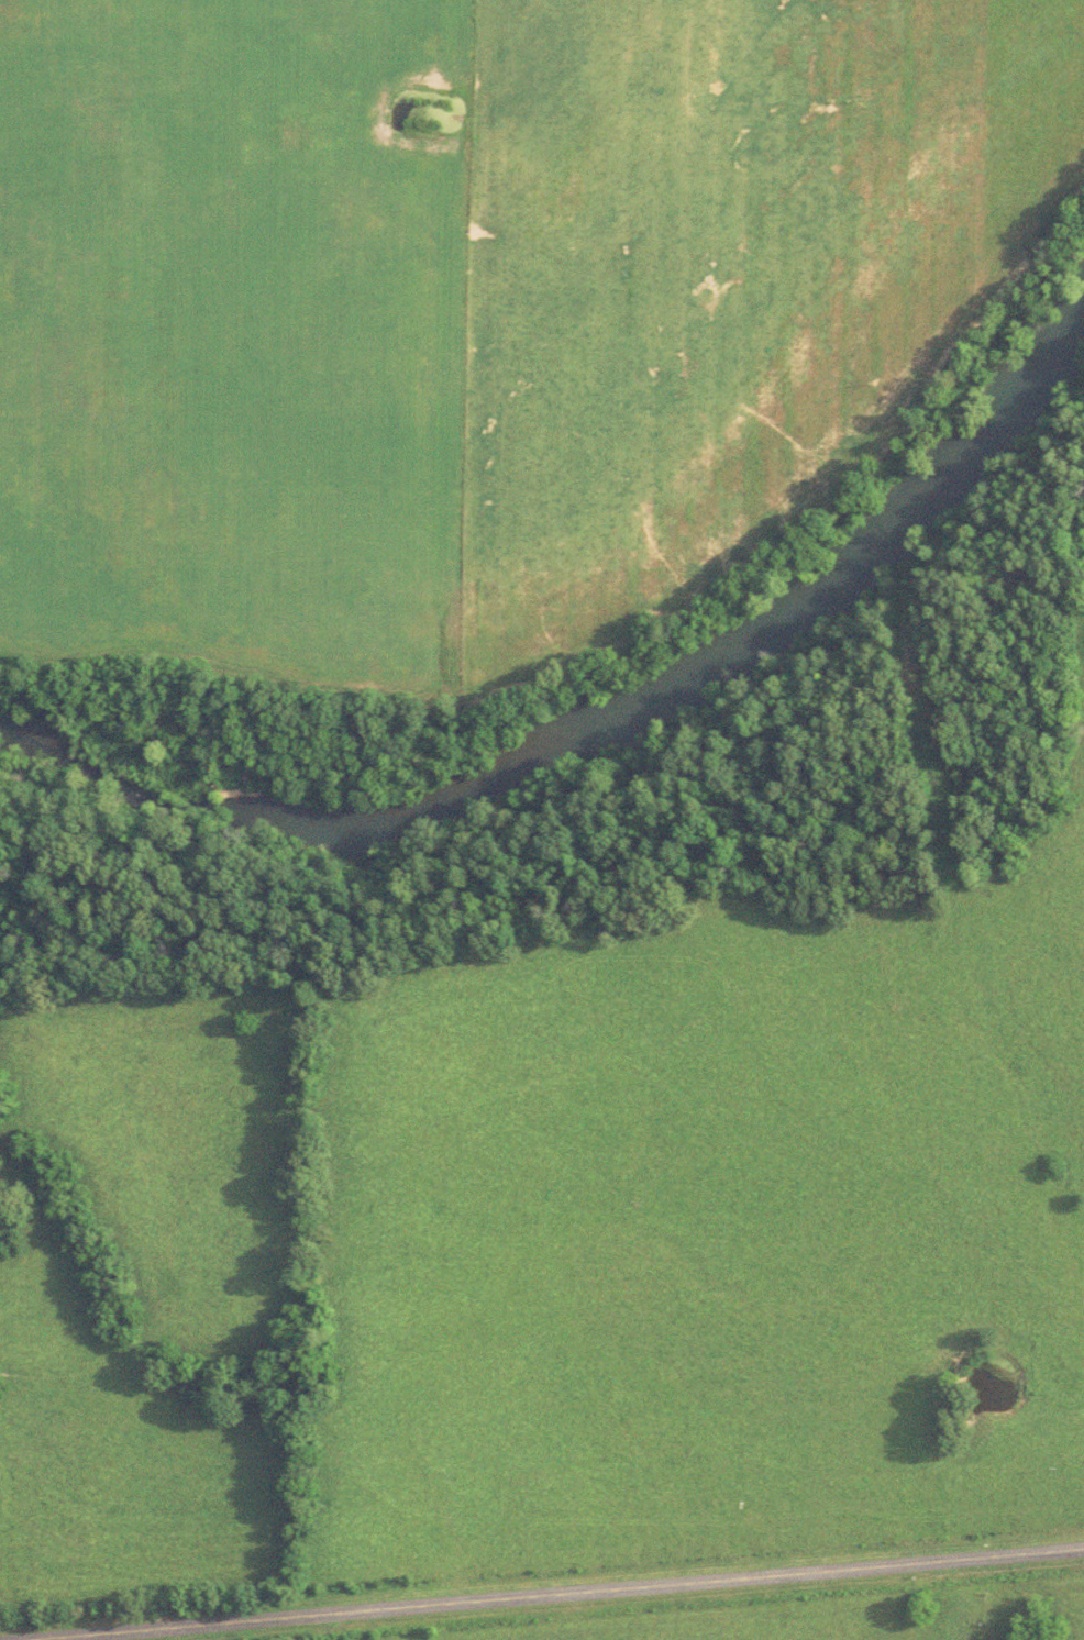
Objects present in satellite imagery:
road: (572, 1595)

